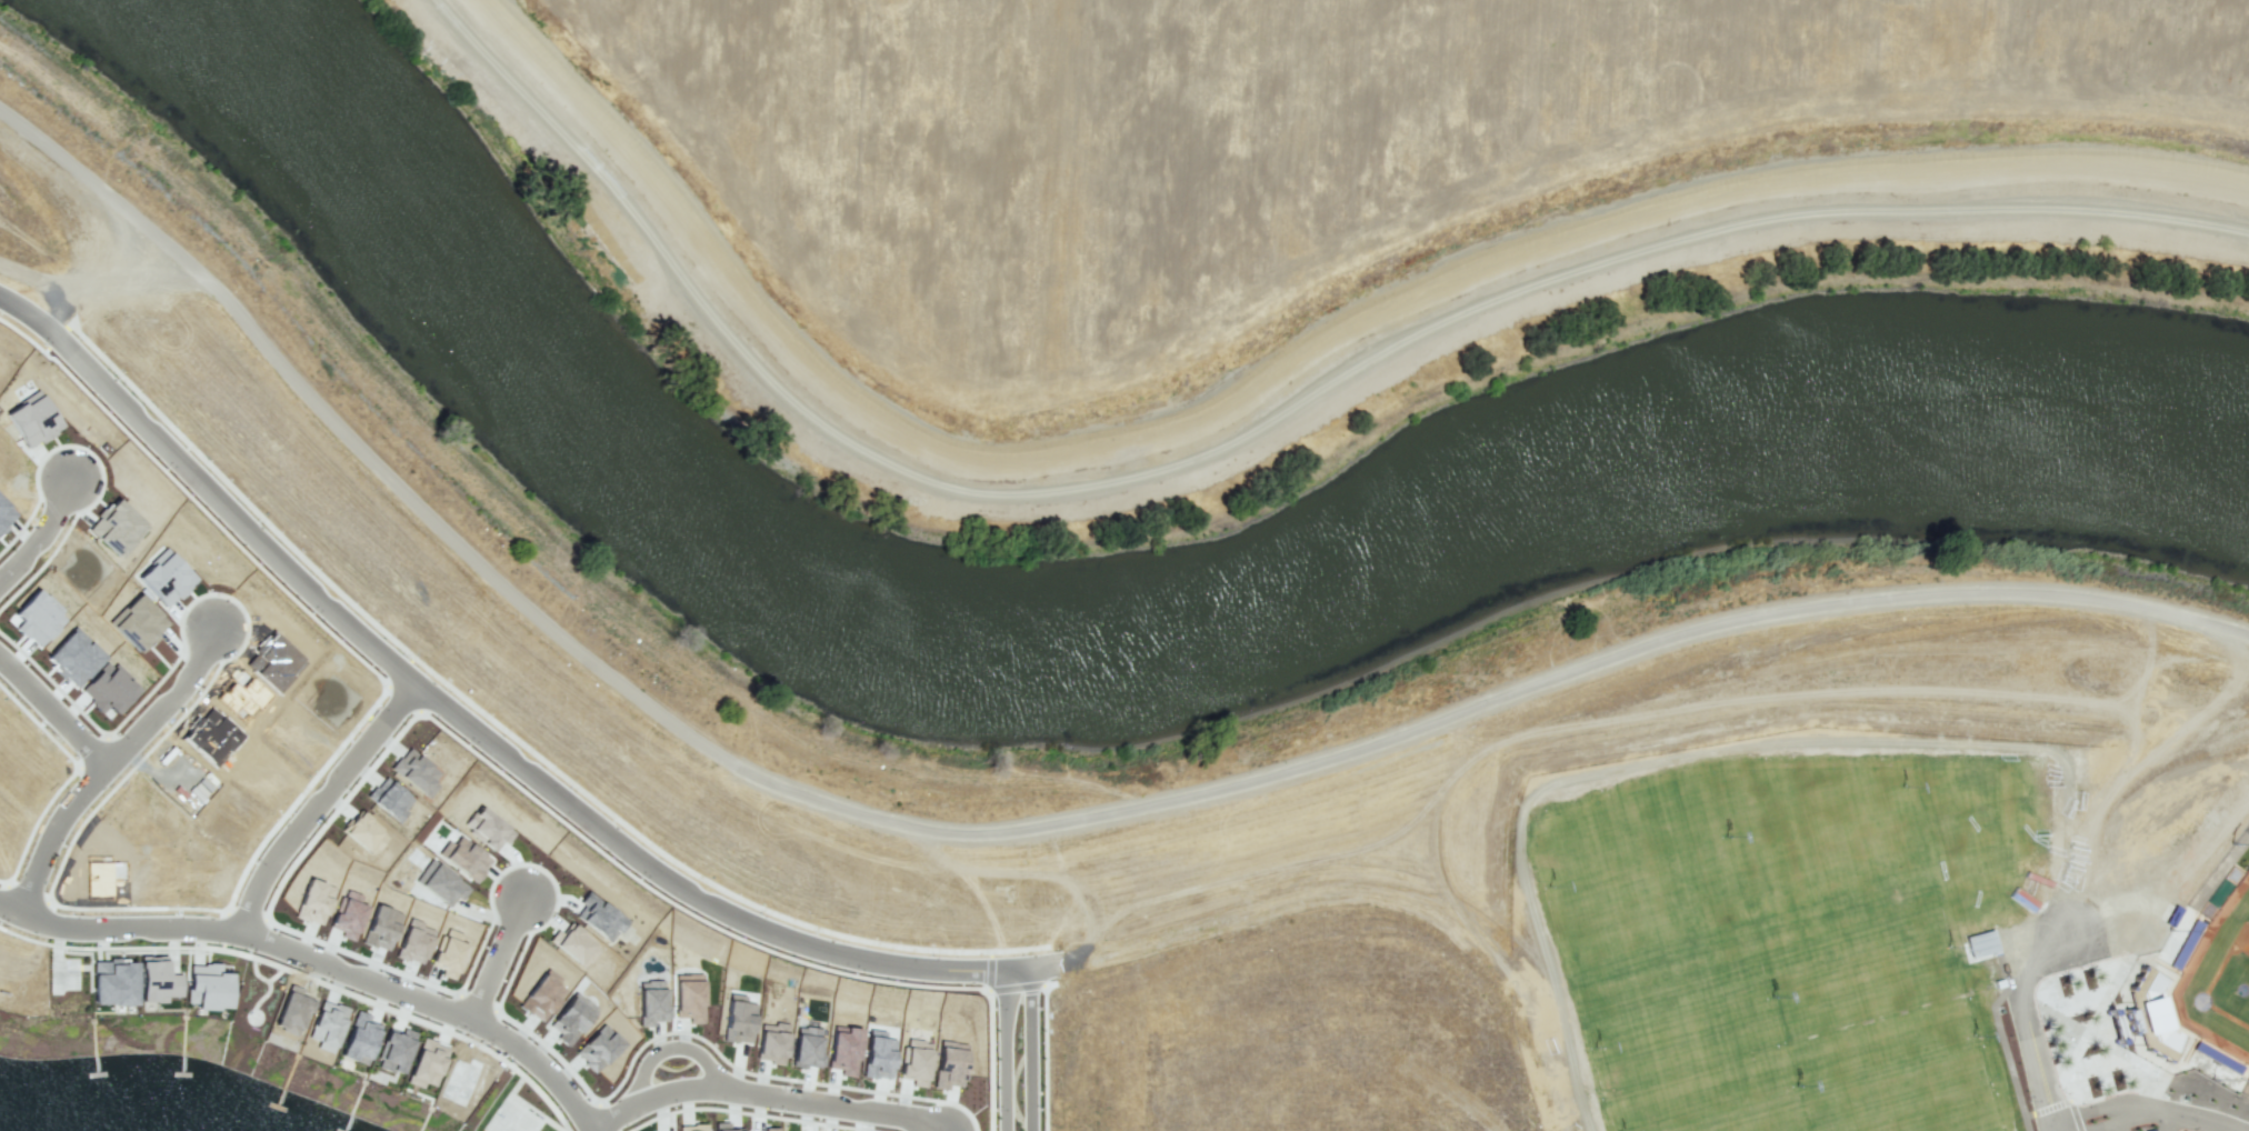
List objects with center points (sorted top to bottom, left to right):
crop: (1316, 202)
road: (11, 301)
road: (1269, 418)
building: (31, 419)
building: (4, 514)
building: (116, 528)
road: (44, 548)
building: (164, 577)
building: (36, 618)
building: (136, 622)
river: (1122, 632)
building: (73, 657)
building: (273, 663)
building: (108, 688)
building: (240, 698)
road: (174, 712)
road: (56, 720)
road: (481, 734)
building: (211, 737)
building: (414, 772)
building: (389, 798)
road: (319, 805)
building: (487, 828)
road: (1011, 829)
building: (363, 833)
road: (58, 845)
building: (463, 858)
building: (440, 883)
building: (312, 901)
building: (347, 914)
building: (598, 919)
building: (379, 927)
building: (413, 941)
park: (1755, 942)
building: (572, 944)
building: (448, 952)
road: (499, 957)
road: (322, 963)
park: (2196, 978)
building: (111, 982)
building: (158, 984)
building: (207, 987)
building: (541, 995)
building: (688, 997)
building: (650, 1002)
building: (290, 1010)
building: (570, 1018)
building: (737, 1019)
building: (326, 1024)
building: (358, 1038)
building: (770, 1042)
building: (806, 1047)
building: (597, 1048)
building: (842, 1049)
road: (1037, 1049)
building: (393, 1050)
road: (669, 1050)
road: (1006, 1051)
building: (877, 1054)
building: (914, 1061)
building: (426, 1064)
building: (948, 1065)
road: (764, 1094)
road: (2165, 1119)
road: (2088, 1120)
road: (2118, 1122)
road: (2167, 1125)
building: (722, 1127)
building: (691, 1128)
building: (769, 1129)

